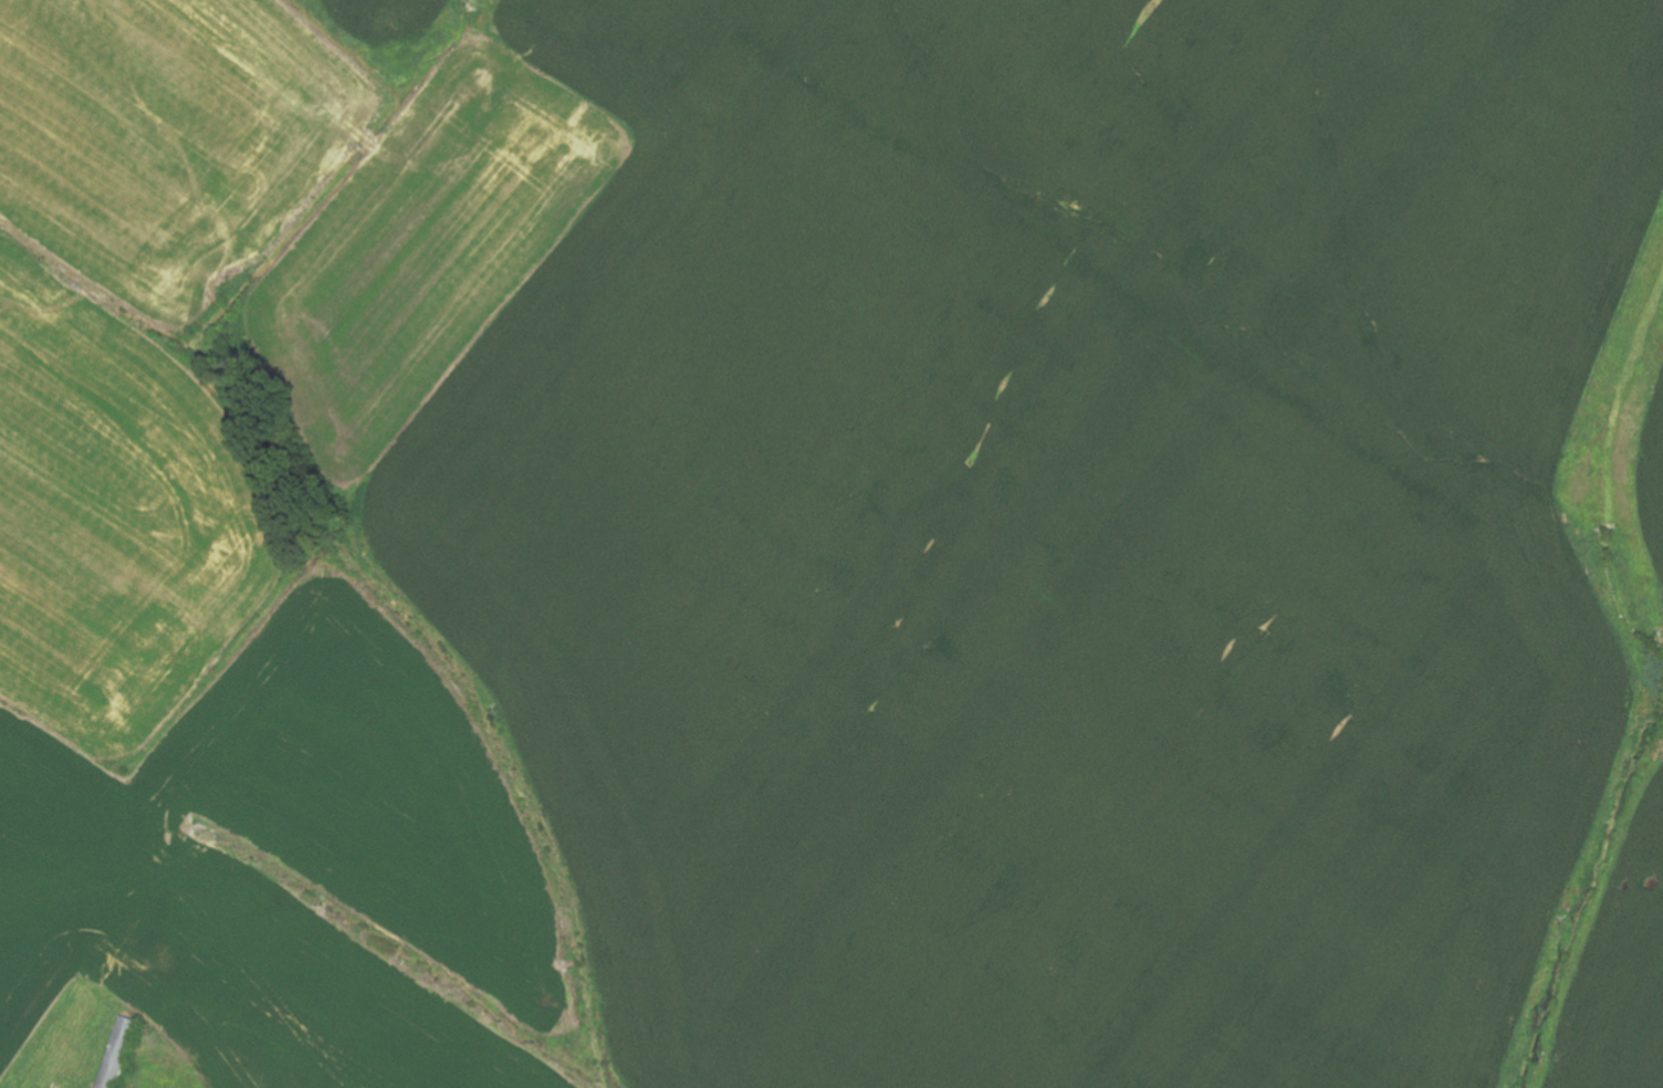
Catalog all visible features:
building: (125, 1038)

